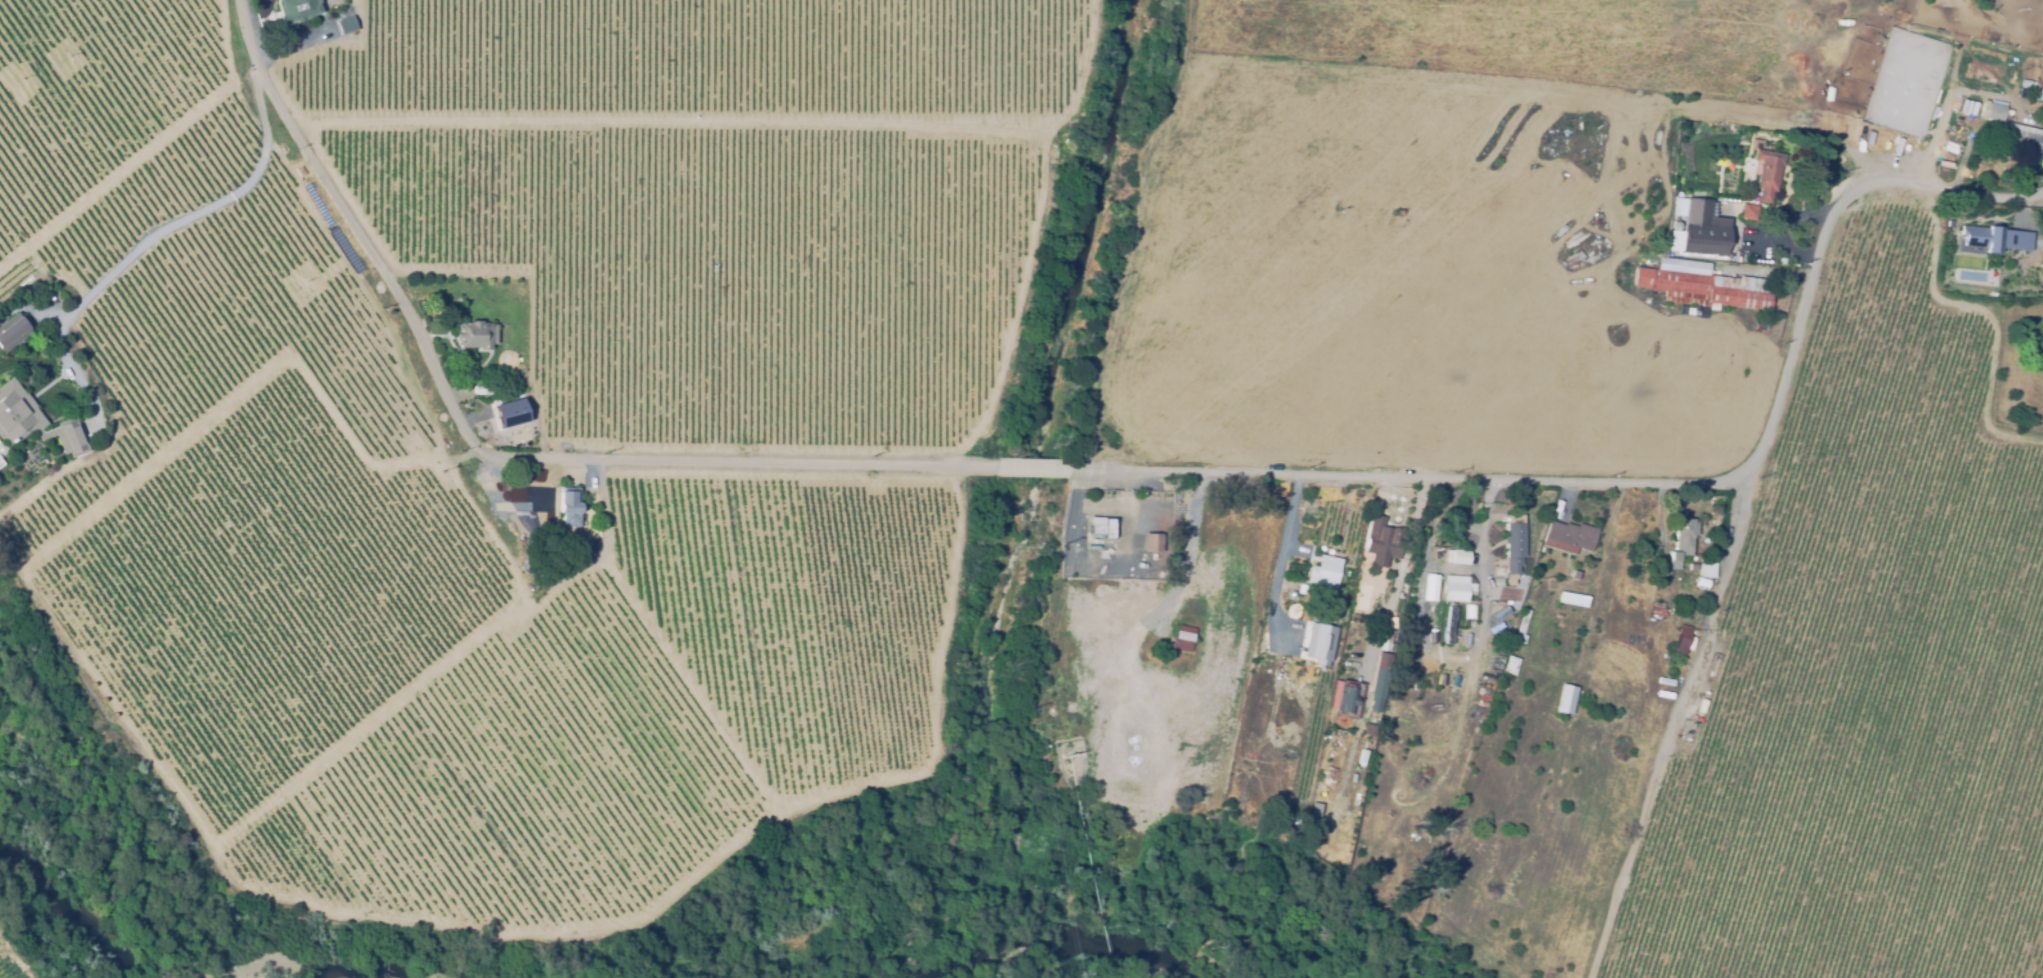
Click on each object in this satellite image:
building: (296, 10)
building: (346, 24)
building: (1961, 105)
building: (1967, 106)
building: (1972, 107)
building: (1993, 111)
building: (2023, 141)
building: (1768, 174)
building: (1748, 214)
building: (1675, 226)
building: (1701, 229)
road: (151, 236)
building: (1999, 237)
road: (1818, 242)
building: (1574, 259)
building: (1701, 285)
building: (1760, 325)
building: (13, 329)
building: (475, 336)
building: (482, 390)
building: (17, 413)
building: (510, 413)
building: (73, 436)
road: (853, 469)
building: (569, 507)
building: (1102, 527)
building: (1663, 536)
building: (1570, 538)
building: (1382, 541)
building: (1682, 542)
building: (1152, 543)
building: (1513, 544)
building: (1459, 557)
building: (527, 565)
building: (1692, 567)
building: (1705, 568)
building: (1324, 571)
road: (1720, 577)
road: (1399, 579)
building: (1701, 583)
building: (1302, 588)
building: (1430, 588)
building: (1456, 590)
building: (1572, 599)
building: (1469, 607)
building: (1657, 611)
building: (1501, 612)
building: (1525, 615)
building: (1451, 626)
building: (1183, 639)
building: (1681, 641)
building: (1317, 643)
building: (1383, 643)
road: (1454, 655)
building: (1380, 662)
building: (1494, 663)
building: (1514, 665)
building: (1382, 678)
building: (1343, 697)
building: (1566, 701)
building: (1368, 729)
building: (1314, 812)
building: (1311, 840)

